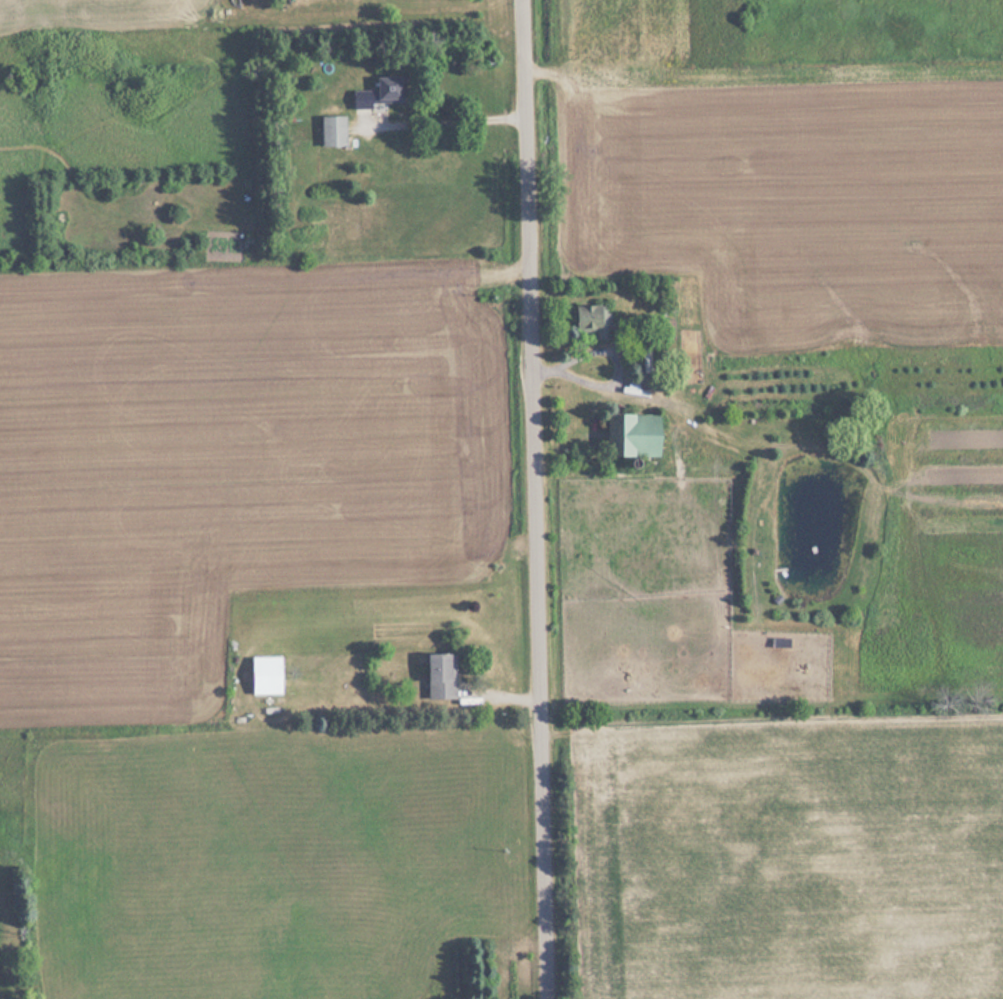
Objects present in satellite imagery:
building: (378, 93)
building: (330, 131)
building: (590, 320)
building: (627, 436)
road: (536, 499)
building: (262, 676)
building: (438, 678)

